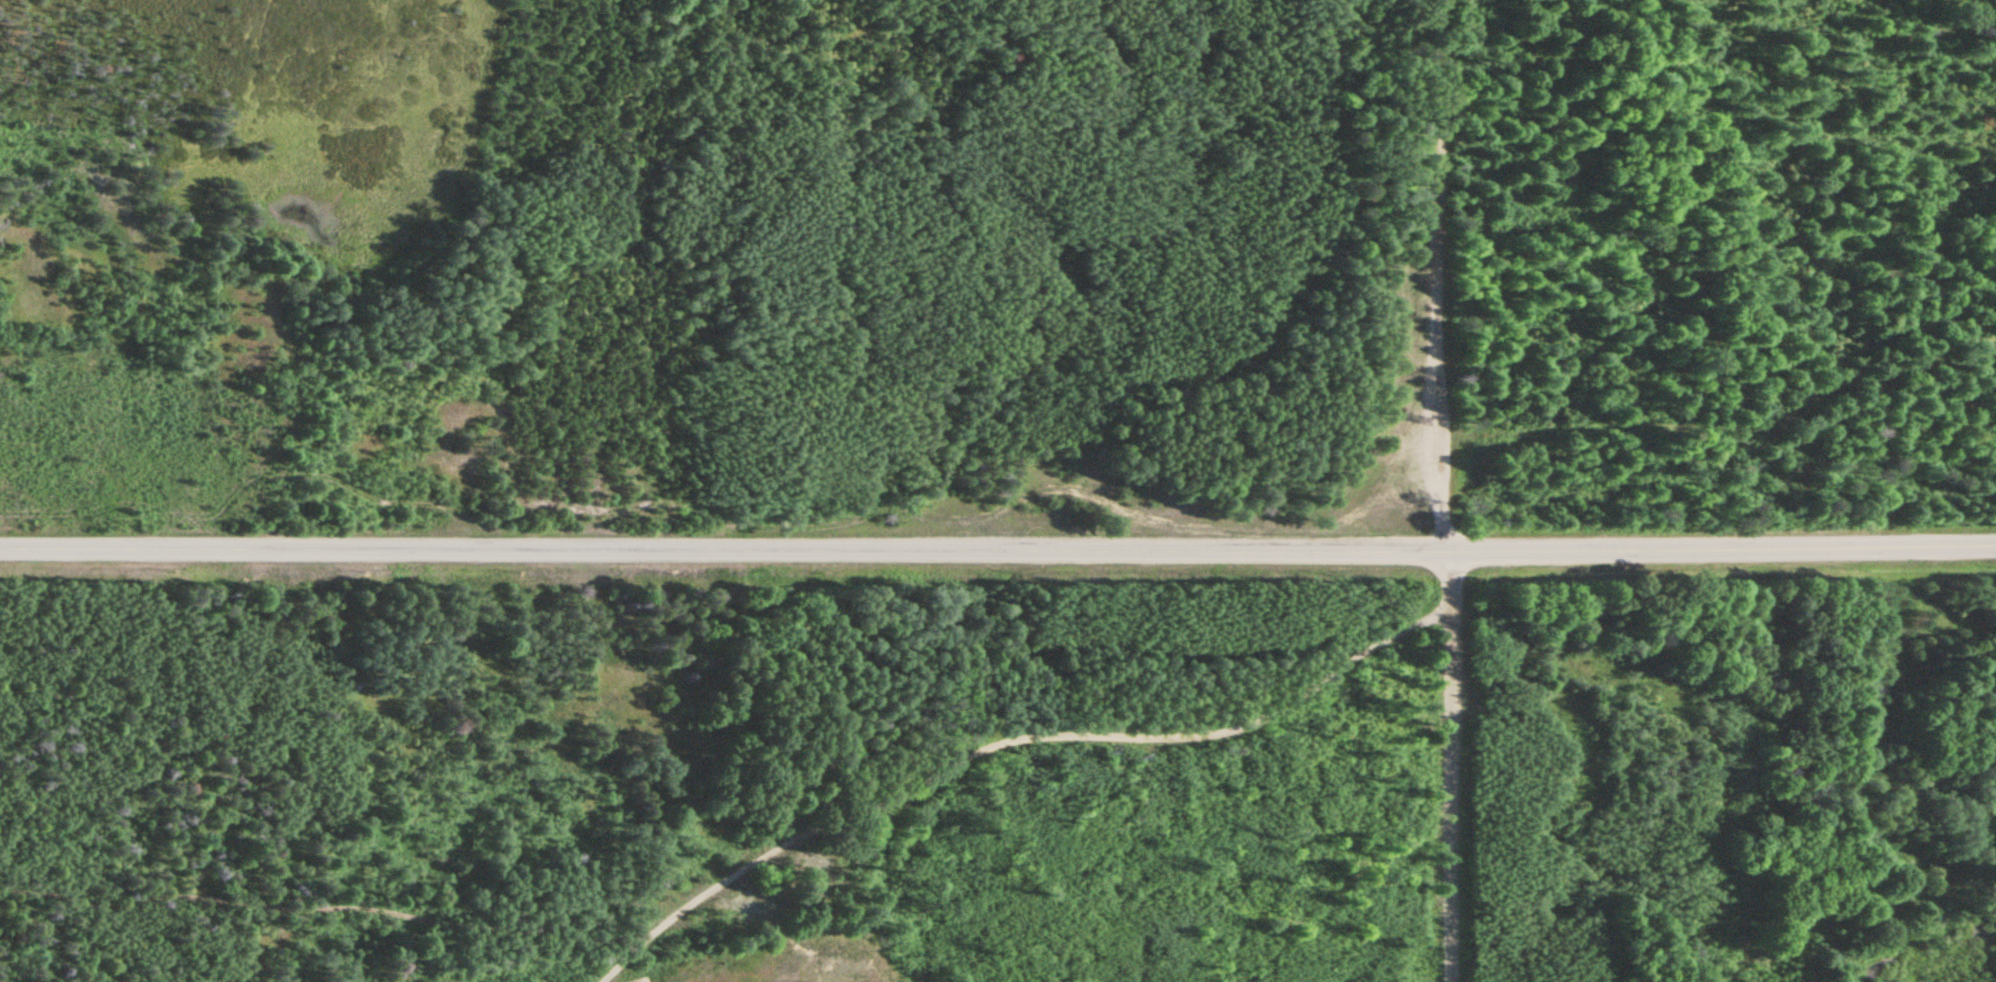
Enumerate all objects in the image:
road: (1451, 276)
road: (1725, 548)
road: (727, 549)
road: (1038, 741)
road: (1454, 767)
road: (182, 903)

